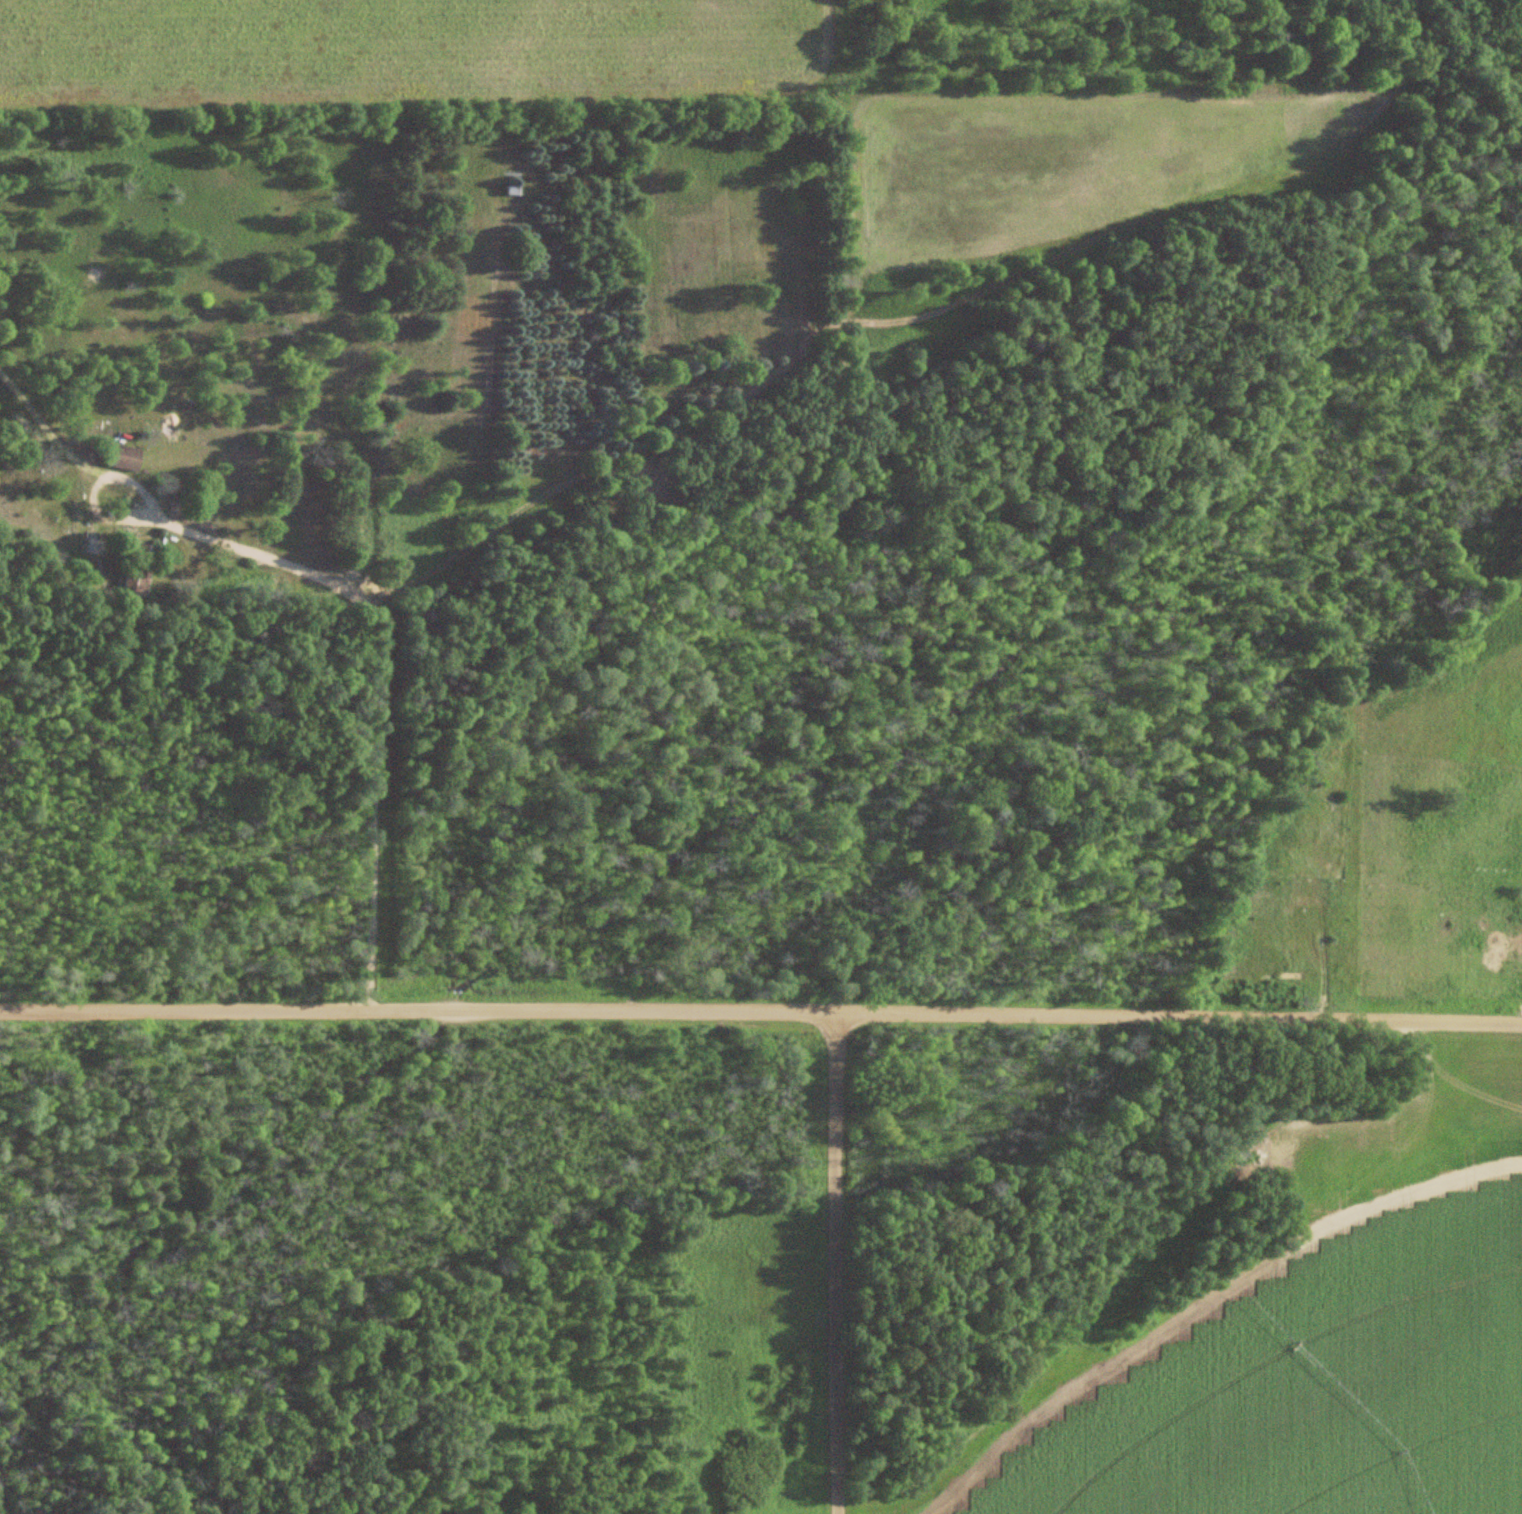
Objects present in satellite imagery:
road: (166, 516)
road: (380, 800)
road: (760, 1009)
road: (840, 1261)

